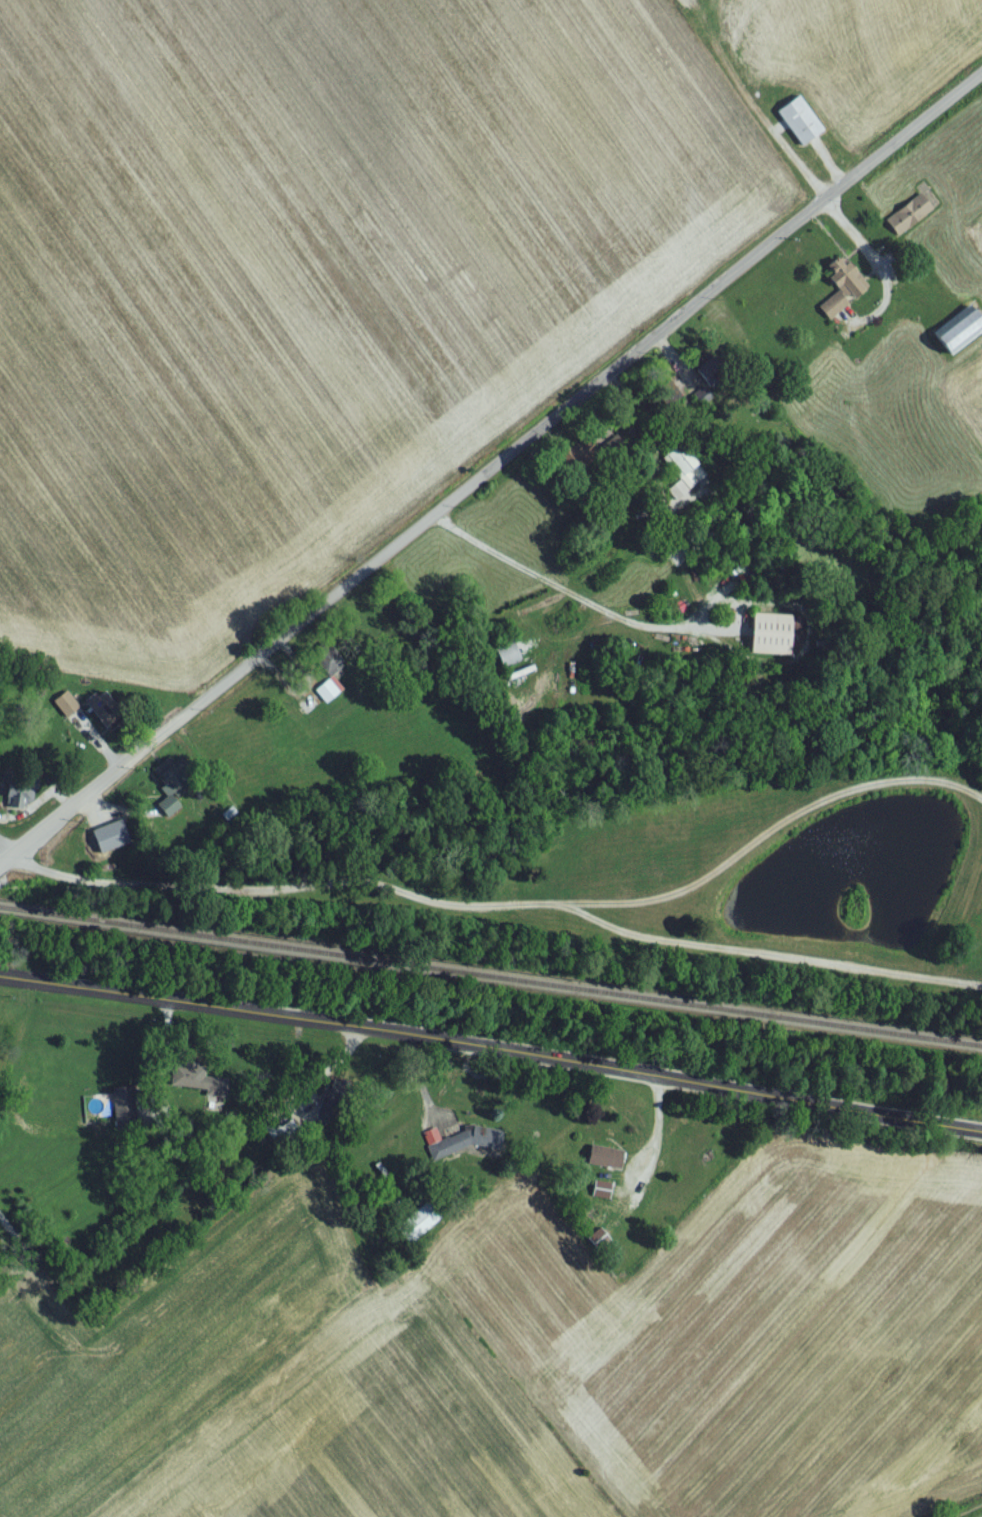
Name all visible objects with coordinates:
building: (797, 126)
road: (800, 166)
road: (860, 241)
building: (838, 295)
road: (602, 429)
building: (677, 466)
road: (501, 469)
road: (687, 626)
building: (761, 641)
building: (504, 661)
building: (326, 696)
building: (99, 721)
road: (770, 832)
road: (6, 846)
road: (6, 854)
road: (284, 890)
road: (770, 956)
railway: (490, 984)
road: (492, 1048)
road: (425, 1114)
building: (451, 1150)
building: (600, 1163)
building: (599, 1195)
road: (8, 1226)
building: (416, 1229)

